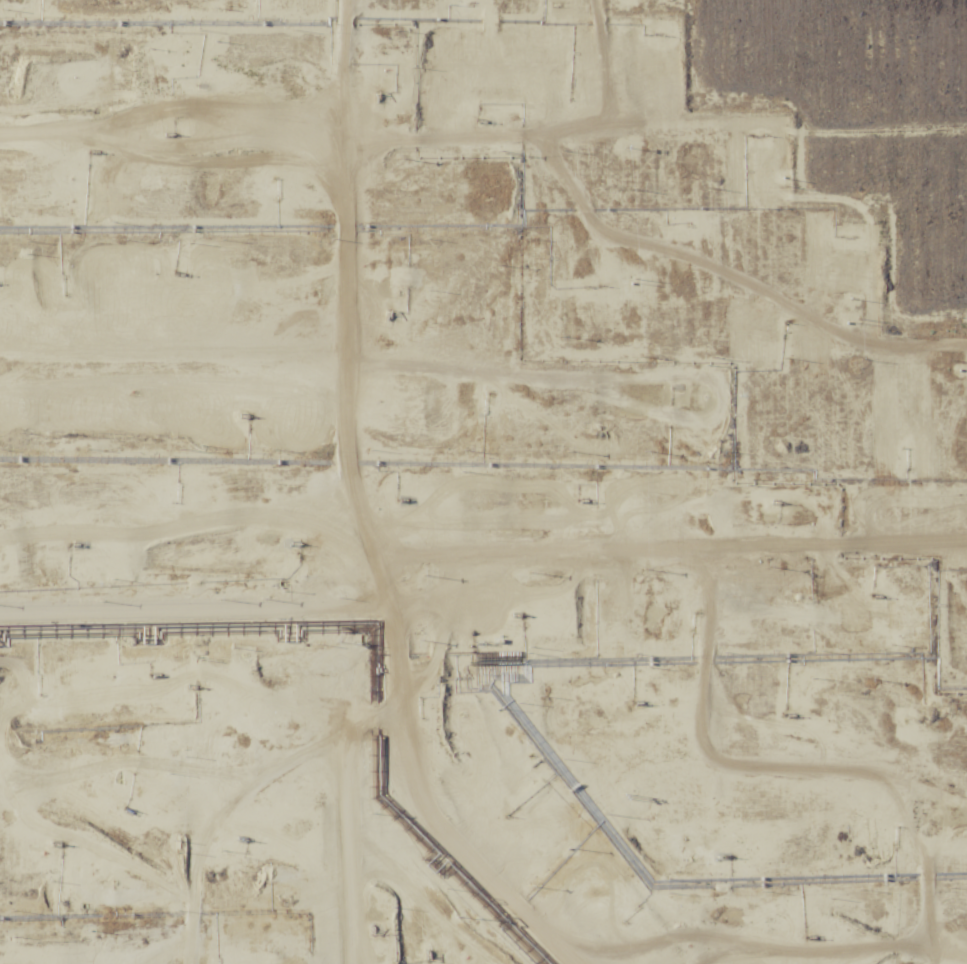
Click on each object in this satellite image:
road: (399, 129)
road: (376, 481)
road: (483, 560)

